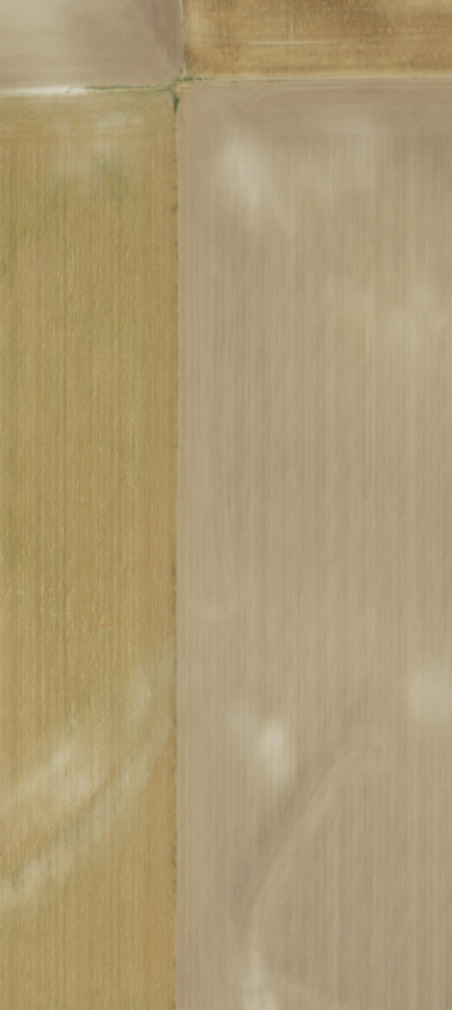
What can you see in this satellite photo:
crop: (218, 37)
road: (225, 79)
crop: (226, 548)

